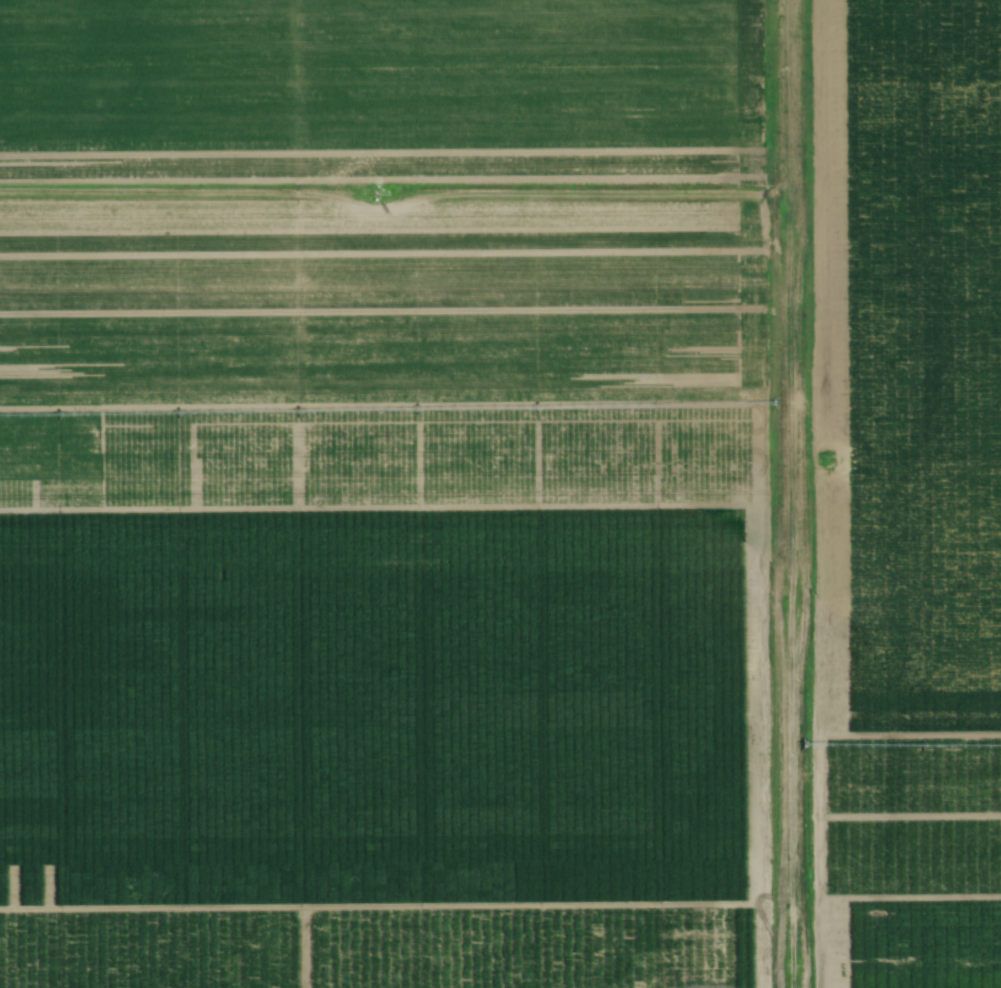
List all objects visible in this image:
building: (157, 1)
building: (185, 15)
building: (407, 34)
building: (484, 44)

